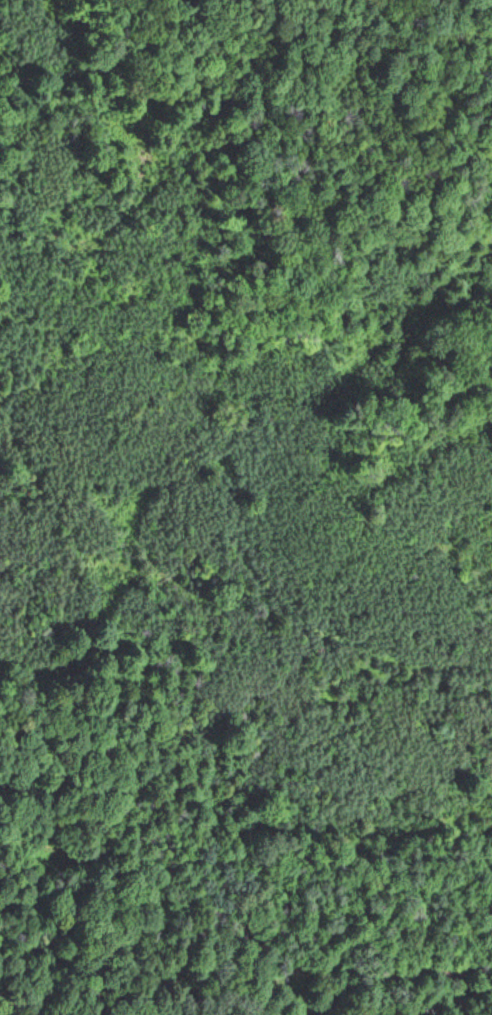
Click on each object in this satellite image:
road: (240, 923)

